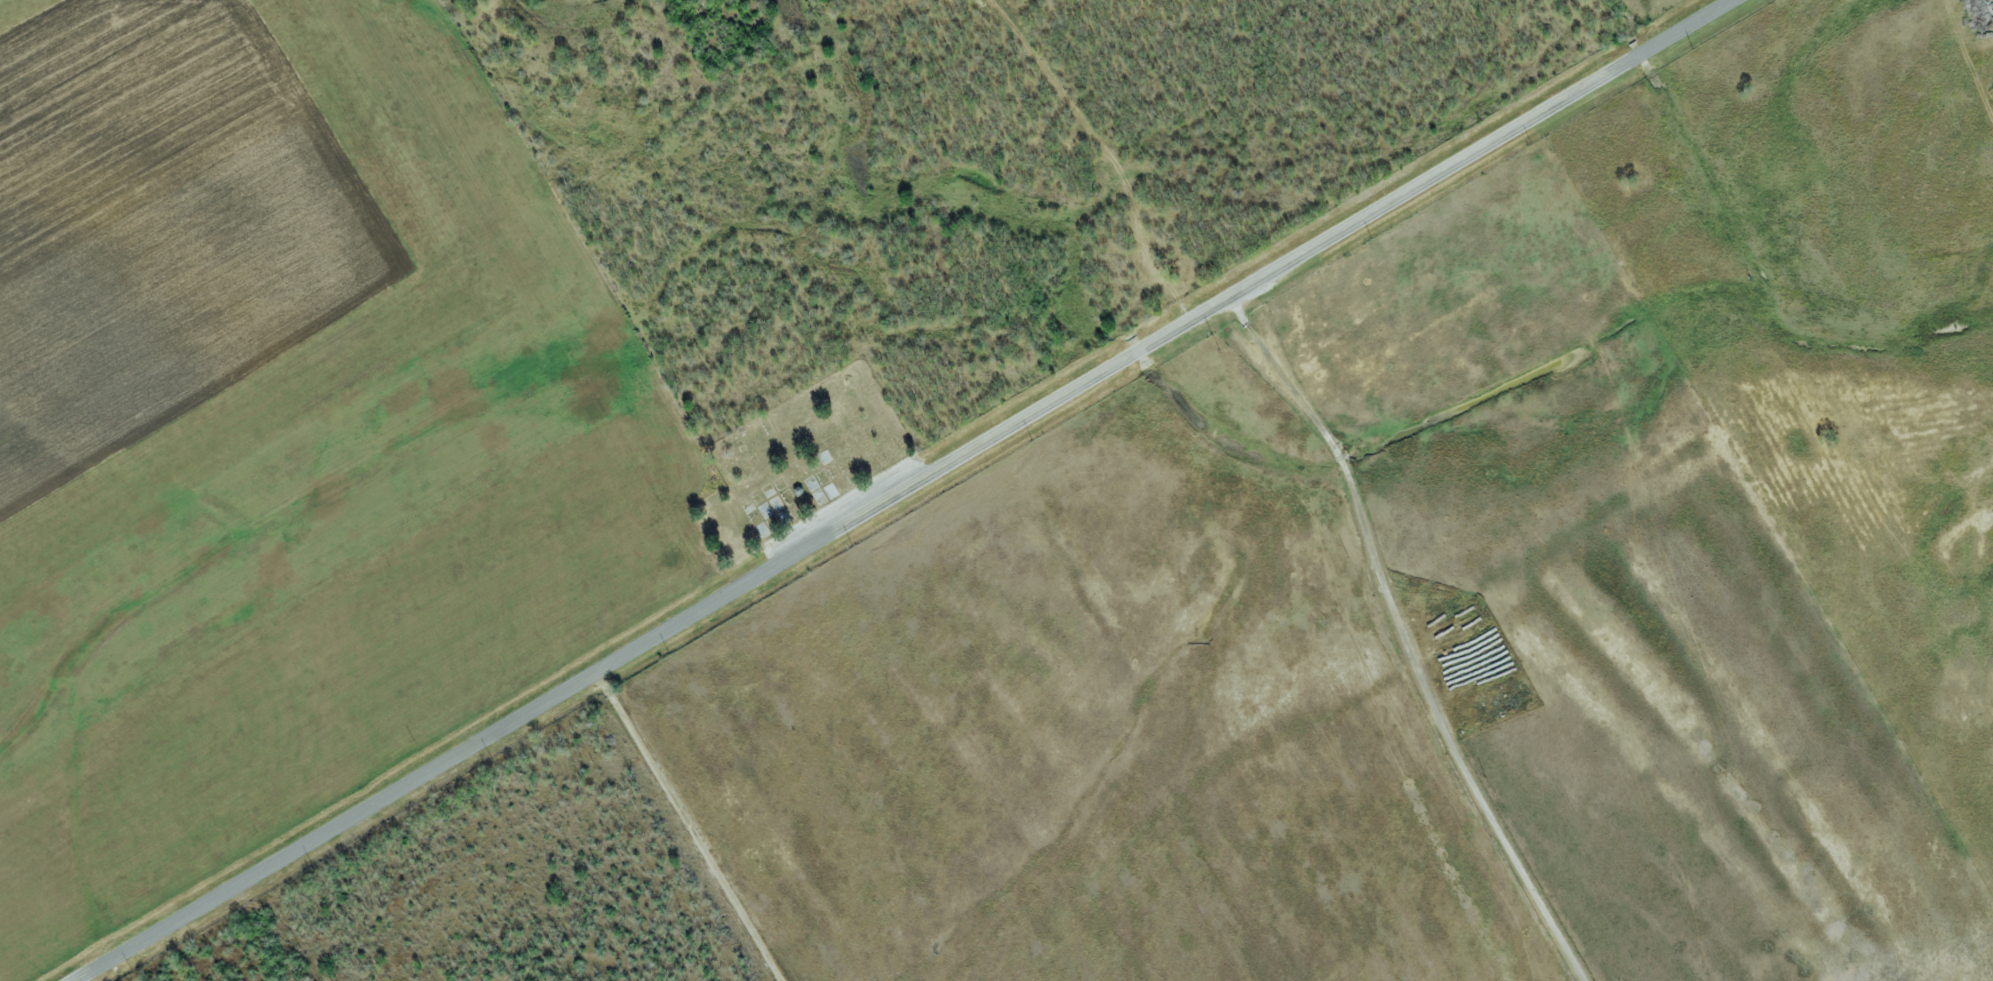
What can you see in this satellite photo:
road: (1084, 169)
park: (798, 459)
road: (915, 490)
road: (1407, 641)

